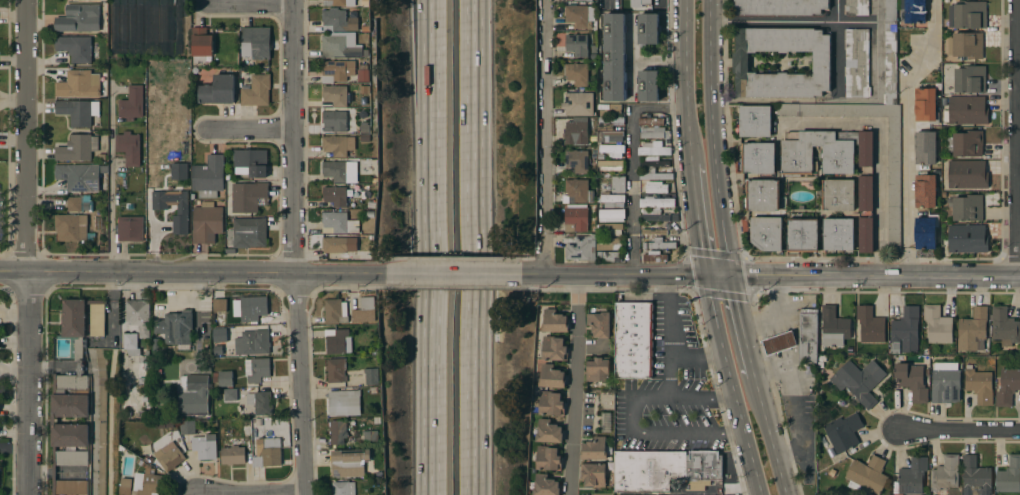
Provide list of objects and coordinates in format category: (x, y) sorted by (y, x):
building: (586, 0)
building: (340, 2)
building: (641, 2)
road: (252, 4)
building: (779, 7)
building: (855, 7)
building: (915, 11)
building: (577, 15)
building: (968, 16)
building: (79, 18)
building: (338, 21)
road: (773, 22)
building: (647, 31)
building: (255, 42)
building: (201, 44)
building: (337, 44)
building: (576, 45)
building: (966, 45)
building: (76, 48)
road: (836, 48)
building: (352, 53)
building: (614, 56)
building: (821, 62)
building: (856, 63)
building: (334, 71)
building: (577, 74)
building: (364, 75)
building: (969, 79)
road: (687, 81)
building: (79, 84)
building: (648, 85)
building: (218, 90)
building: (363, 90)
building: (256, 91)
building: (336, 95)
building: (364, 101)
building: (132, 103)
building: (578, 104)
building: (925, 107)
building: (608, 109)
building: (967, 110)
building: (78, 111)
building: (334, 121)
building: (755, 121)
building: (650, 122)
building: (608, 123)
building: (365, 129)
road: (251, 131)
building: (576, 132)
building: (654, 133)
road: (903, 134)
building: (609, 136)
road: (713, 137)
building: (365, 138)
road: (547, 138)
road: (1019, 139)
building: (965, 143)
building: (335, 145)
road: (634, 145)
building: (77, 147)
building: (129, 148)
building: (865, 148)
building: (925, 148)
building: (654, 149)
building: (610, 151)
road: (878, 153)
building: (650, 158)
building: (758, 158)
building: (797, 158)
building: (576, 161)
building: (250, 162)
building: (610, 165)
building: (655, 165)
building: (339, 170)
building: (179, 171)
building: (651, 171)
building: (663, 171)
building: (967, 174)
building: (79, 176)
building: (656, 176)
building: (208, 177)
road: (110, 179)
building: (617, 184)
building: (894, 184)
building: (656, 187)
building: (577, 191)
building: (925, 191)
building: (865, 192)
building: (763, 195)
building: (838, 195)
building: (248, 196)
building: (335, 196)
building: (612, 200)
building: (656, 202)
building: (74, 204)
building: (173, 207)
building: (965, 208)
building: (611, 215)
building: (654, 215)
building: (575, 218)
road: (700, 218)
building: (206, 223)
building: (338, 223)
building: (71, 227)
building: (592, 228)
building: (130, 229)
building: (609, 229)
building: (654, 232)
building: (926, 232)
building: (247, 233)
building: (766, 233)
building: (838, 234)
building: (866, 234)
building: (802, 235)
building: (967, 239)
building: (609, 244)
building: (658, 244)
building: (334, 245)
road: (295, 247)
road: (429, 247)
road: (472, 247)
building: (580, 247)
road: (27, 248)
building: (609, 256)
building: (655, 256)
traffic signals: (708, 274)
traffic signals: (731, 274)
road: (198, 275)
road: (460, 275)
road: (626, 275)
road: (875, 276)
road: (192, 299)
building: (367, 303)
building: (220, 306)
building: (253, 308)
road: (770, 309)
building: (334, 310)
building: (138, 316)
building: (552, 321)
building: (82, 322)
building: (599, 324)
road: (742, 325)
building: (870, 325)
building: (937, 325)
building: (175, 327)
building: (834, 327)
building: (1004, 327)
building: (972, 330)
building: (905, 331)
building: (218, 333)
road: (667, 336)
building: (808, 336)
building: (633, 340)
building: (338, 341)
building: (252, 342)
building: (779, 342)
building: (131, 344)
building: (554, 349)
building: (218, 350)
road: (696, 357)
building: (256, 369)
building: (598, 369)
building: (336, 370)
building: (144, 373)
building: (370, 376)
building: (552, 377)
building: (225, 378)
building: (859, 381)
building: (912, 381)
building: (945, 383)
road: (576, 385)
road: (731, 385)
building: (979, 385)
building: (195, 386)
building: (1007, 387)
building: (230, 394)
road: (632, 397)
road: (702, 398)
building: (260, 402)
building: (344, 402)
building: (551, 403)
building: (184, 404)
building: (187, 427)
building: (69, 429)
road: (960, 430)
building: (337, 431)
building: (549, 431)
building: (246, 432)
building: (843, 432)
road: (688, 433)
road: (771, 436)
building: (370, 437)
building: (204, 446)
building: (594, 449)
building: (267, 453)
building: (233, 455)
building: (169, 456)
building: (548, 458)
building: (349, 462)
building: (665, 469)
building: (945, 473)
building: (593, 474)
building: (866, 476)
building: (912, 476)
building: (1009, 476)
building: (975, 477)
building: (147, 482)
building: (546, 485)
building: (125, 486)
building: (343, 488)
road: (277, 493)

